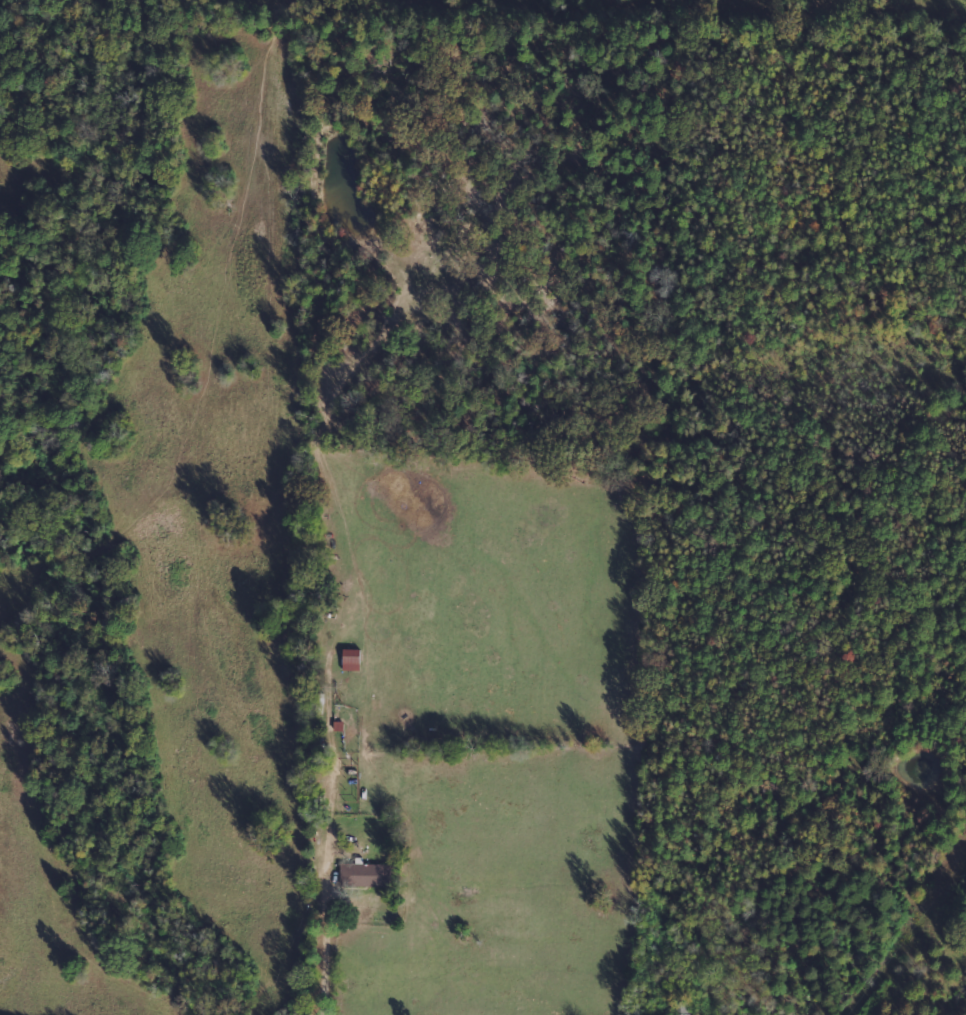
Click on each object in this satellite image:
road: (948, 640)
building: (352, 660)

